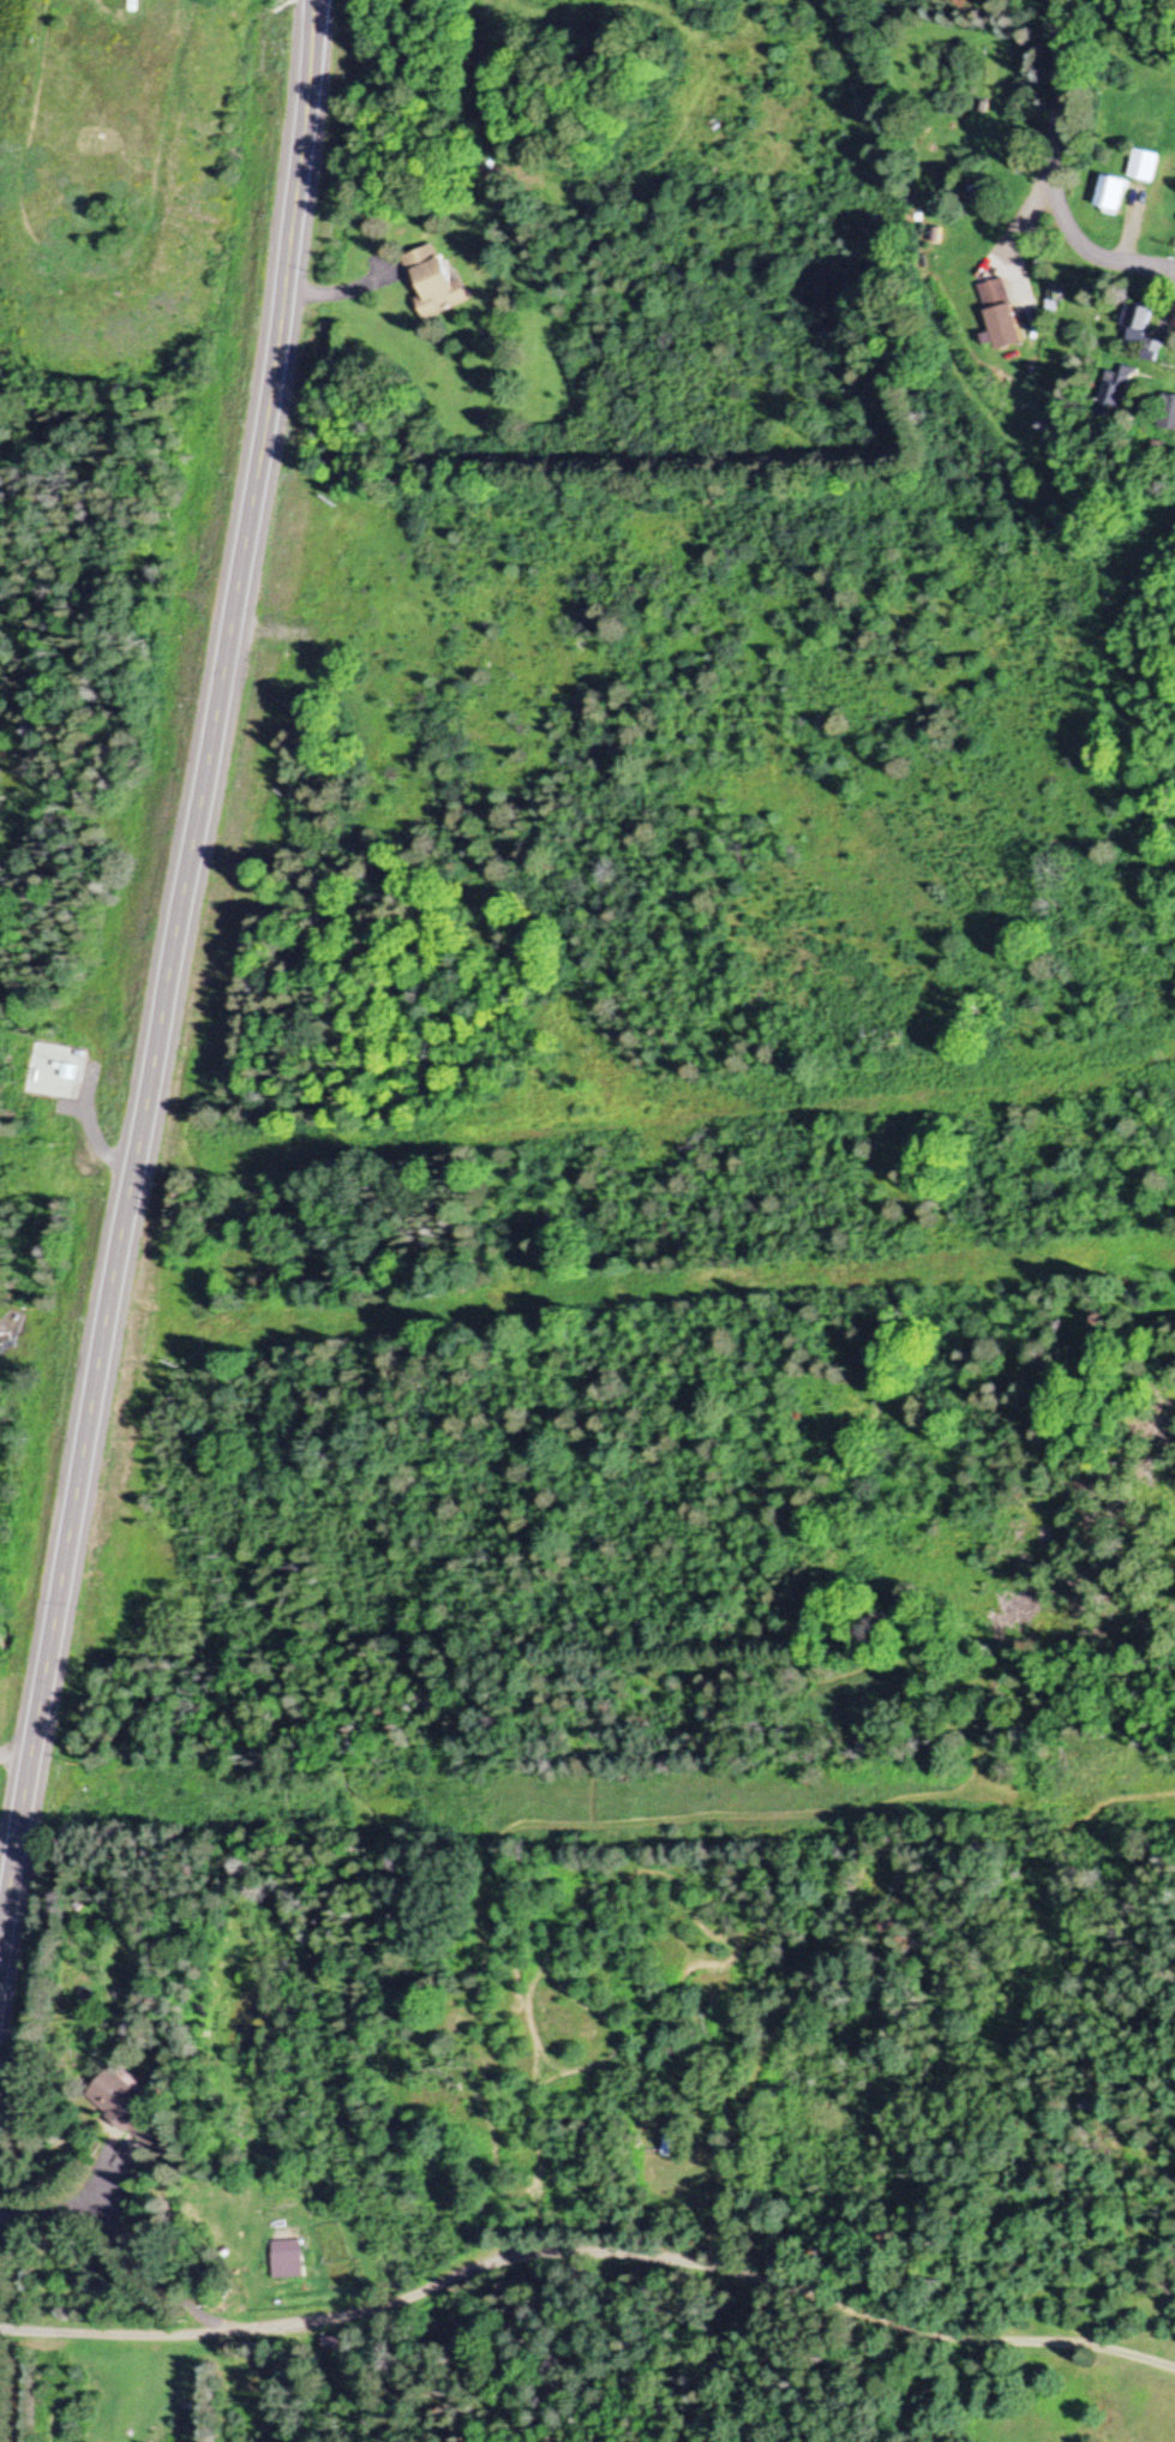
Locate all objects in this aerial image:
road: (1061, 97)
road: (299, 134)
building: (1141, 166)
building: (1109, 196)
road: (1119, 214)
building: (433, 283)
building: (1001, 317)
building: (1140, 331)
building: (1119, 390)
building: (1169, 414)
road: (143, 1105)
road: (16, 1749)
building: (128, 2107)
road: (588, 2250)
building: (284, 2261)
building: (329, 2346)

